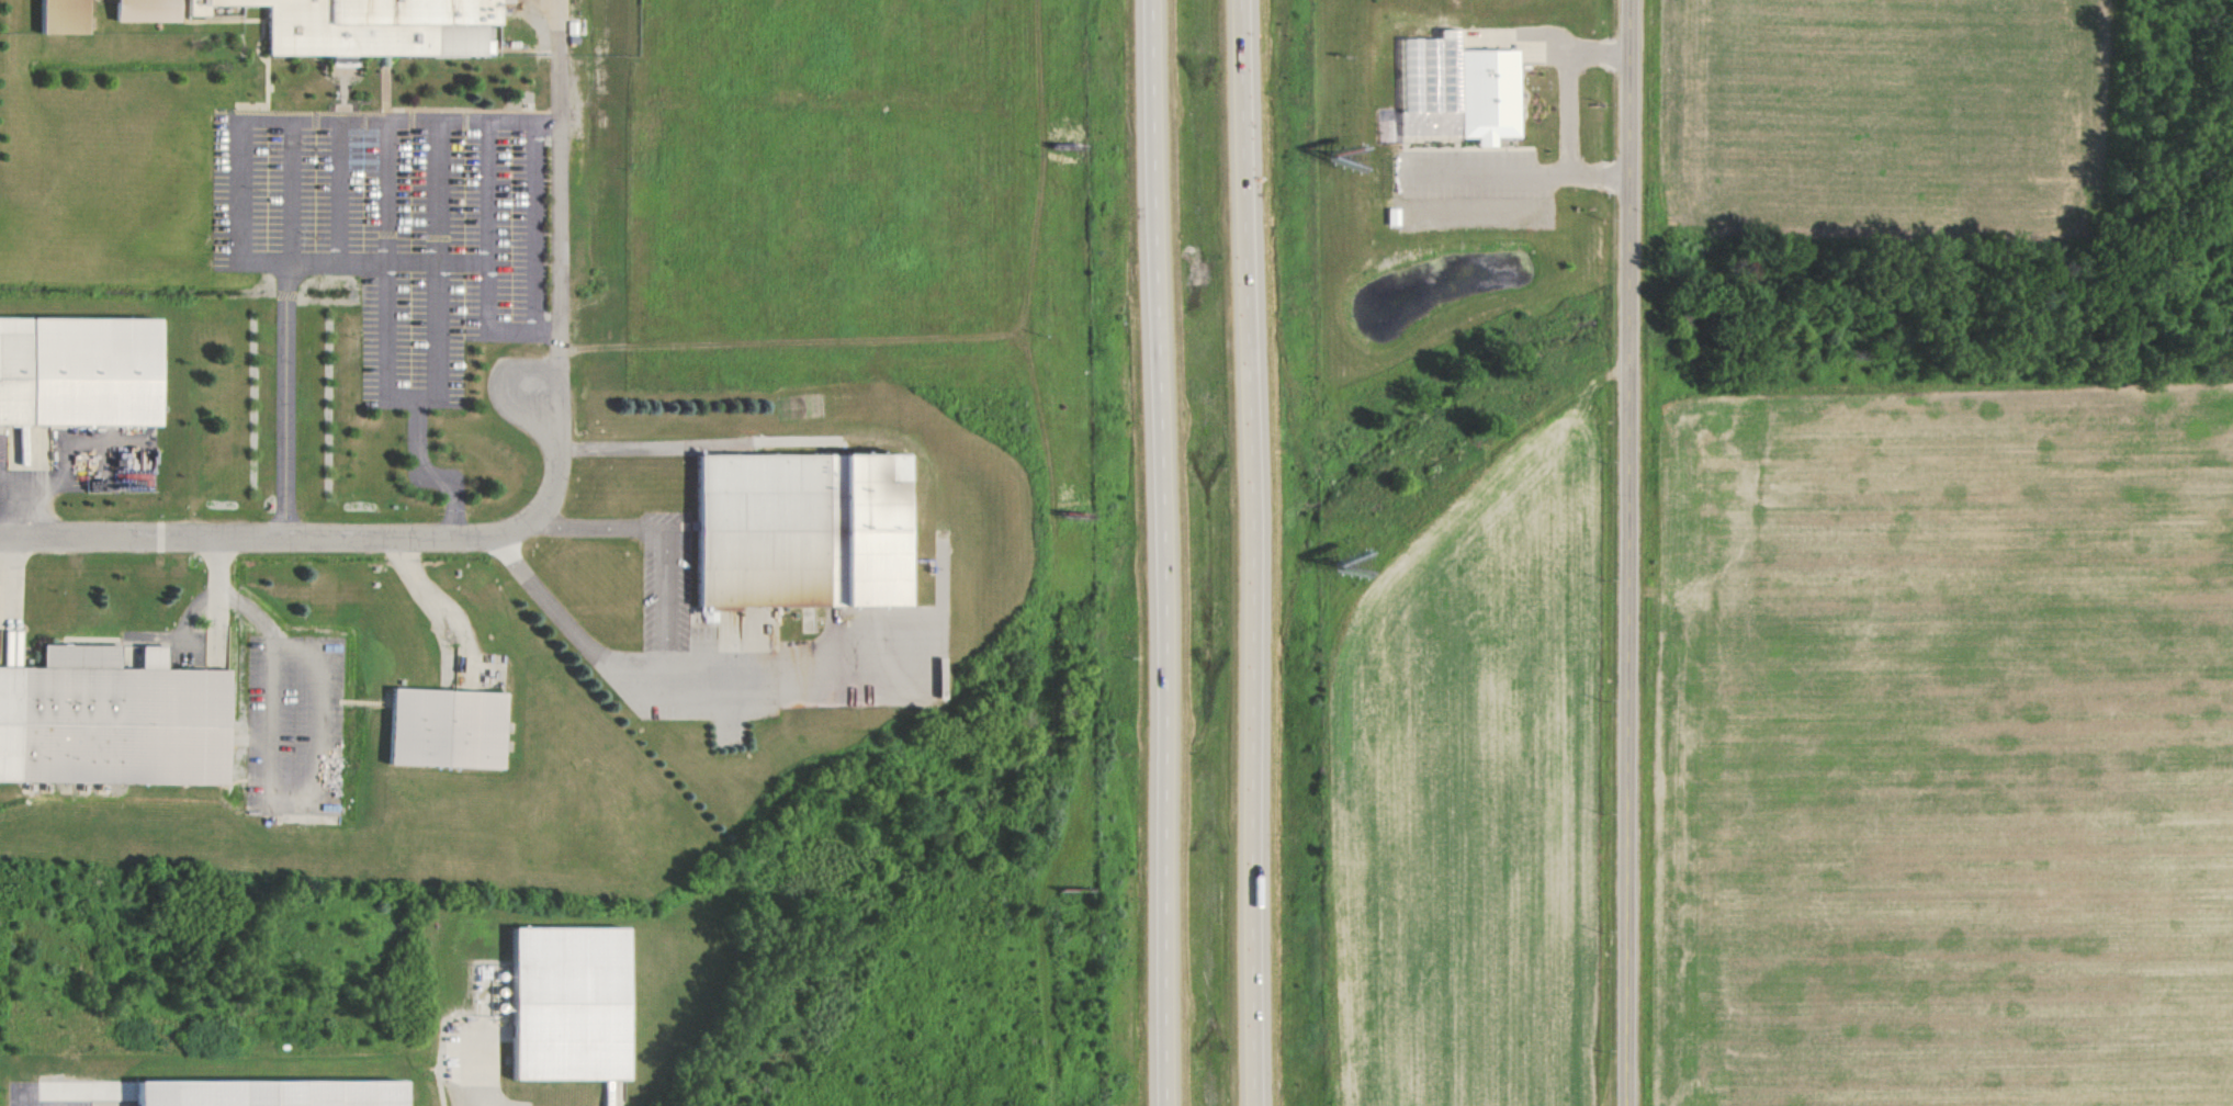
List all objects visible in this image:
building: (145, 12)
building: (63, 18)
building: (370, 26)
building: (1458, 84)
road: (361, 123)
road: (561, 166)
road: (293, 193)
road: (340, 193)
road: (438, 193)
road: (489, 193)
parking lot: (398, 232)
road: (561, 348)
building: (77, 379)
road: (438, 400)
road: (286, 402)
road: (430, 475)
building: (810, 529)
road: (353, 540)
road: (1621, 552)
road: (1161, 553)
road: (1249, 553)
building: (108, 734)
building: (433, 735)
building: (553, 1013)
building: (253, 1097)
road: (66, 1104)

